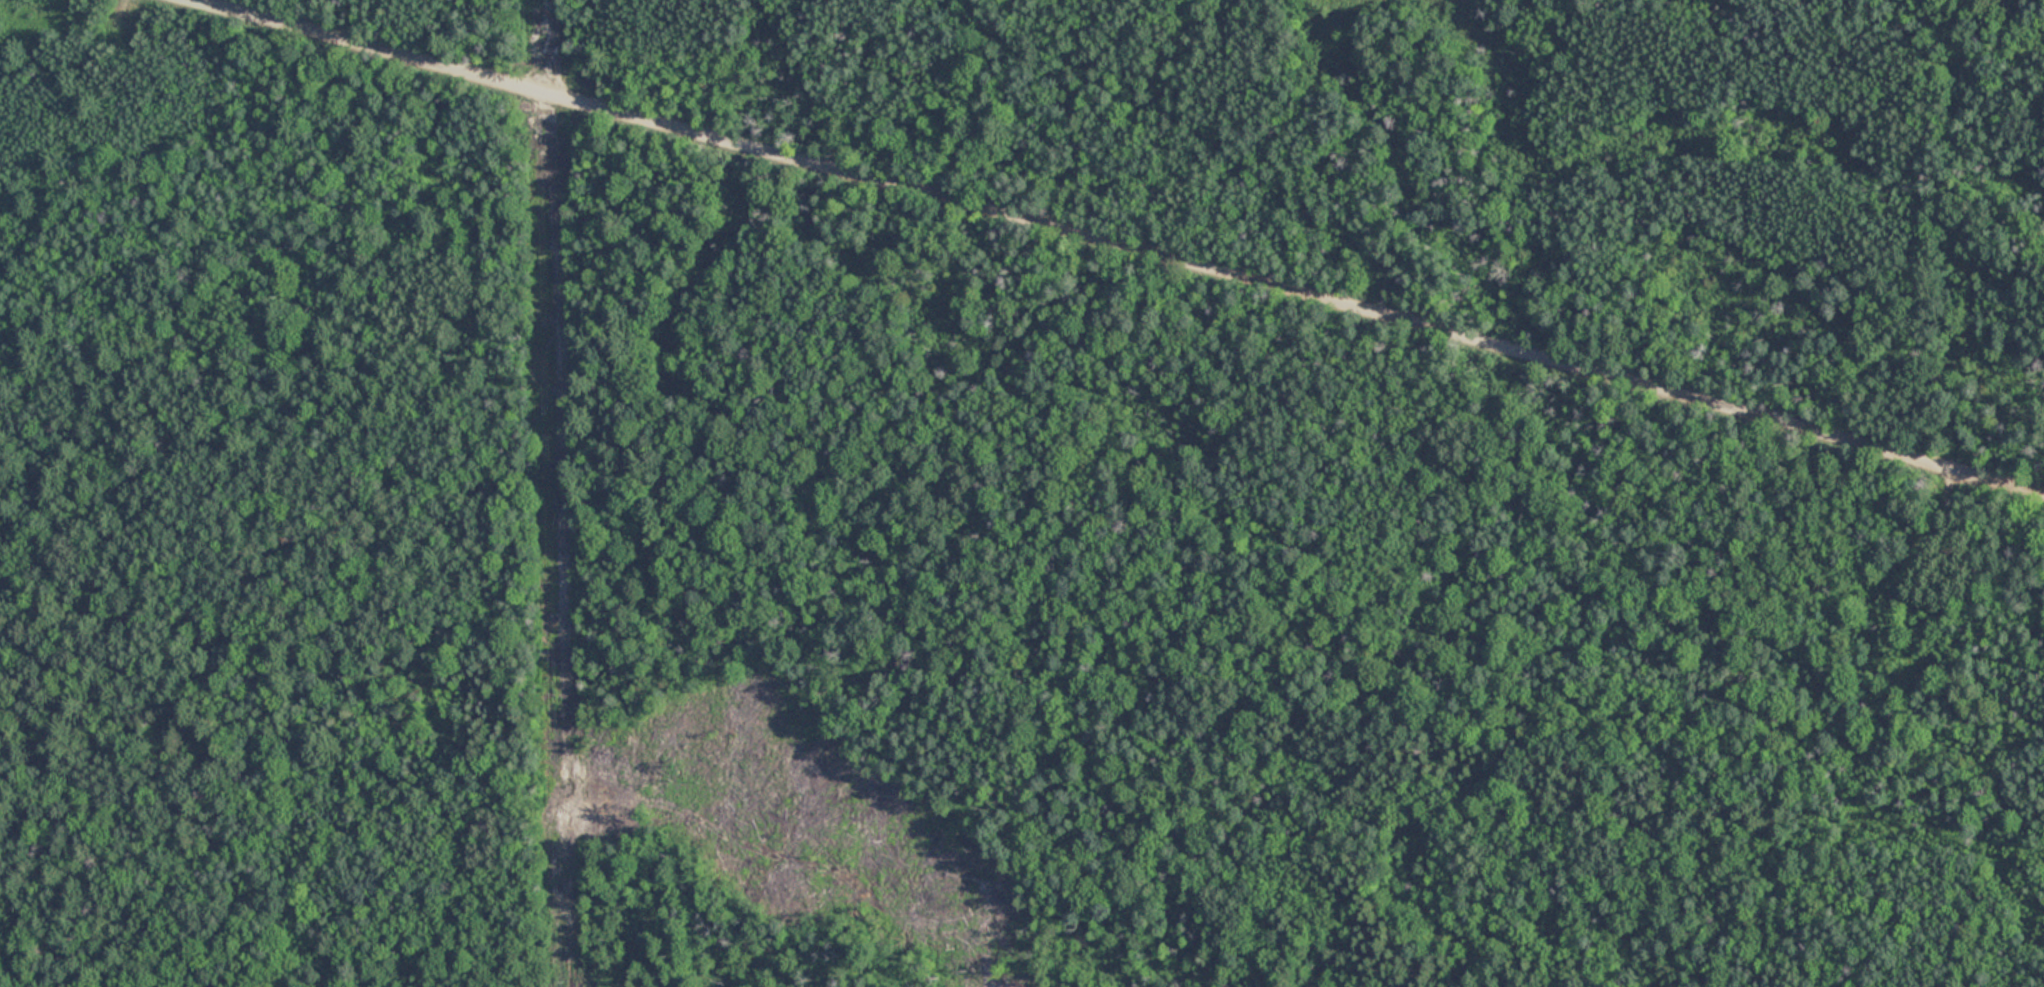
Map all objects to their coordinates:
road: (561, 51)
road: (1114, 248)
park: (1022, 493)

